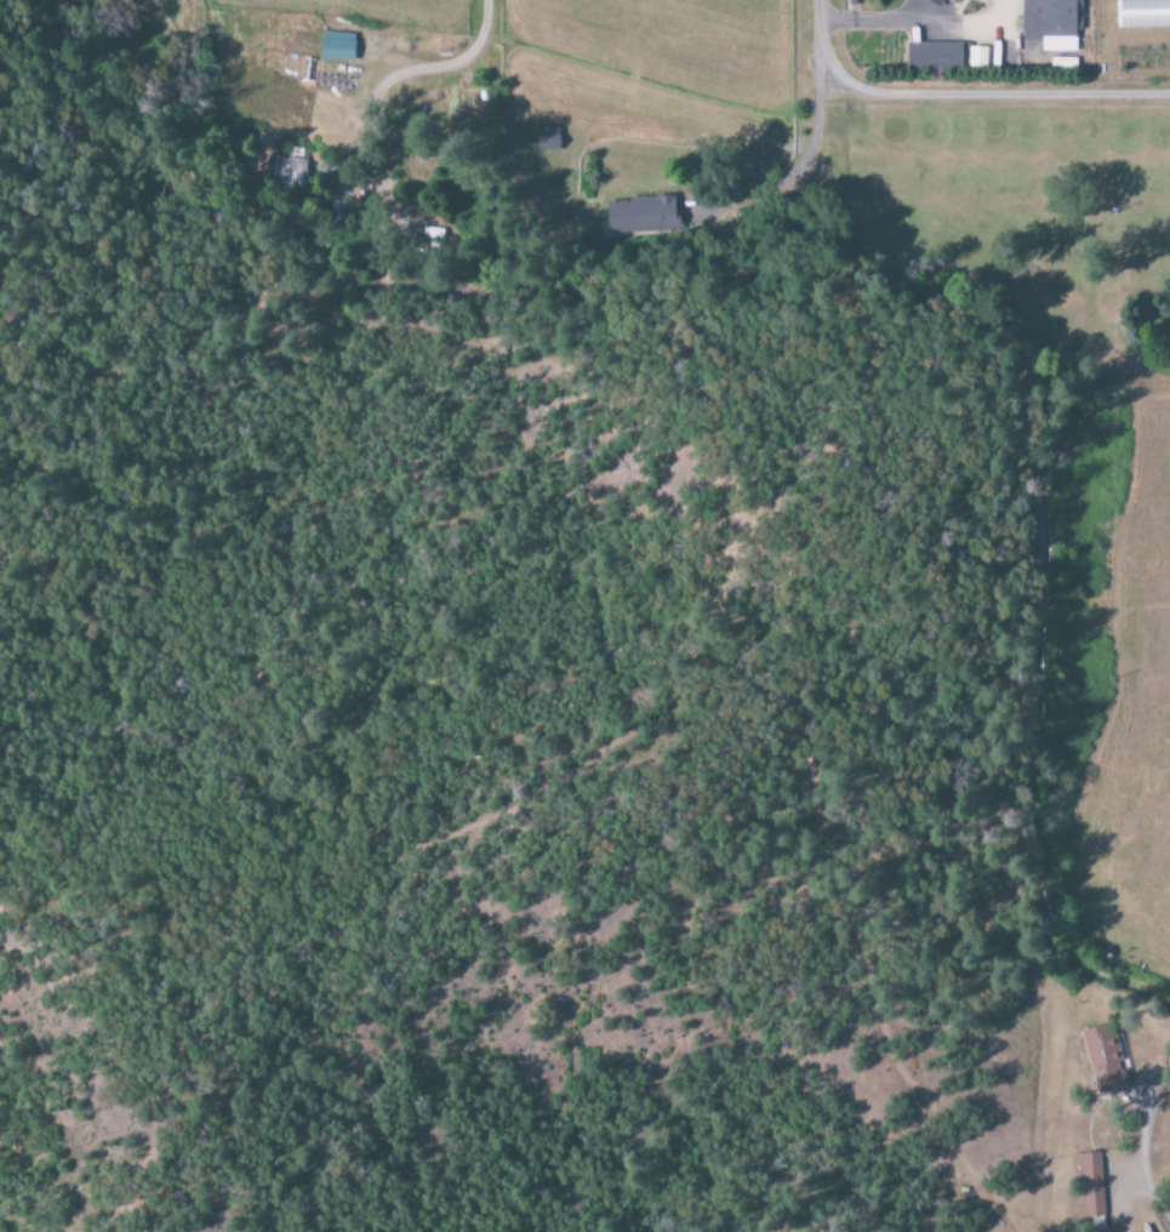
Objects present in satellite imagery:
building: (953, 0)
building: (934, 1)
building: (1051, 23)
road: (902, 25)
road: (815, 41)
building: (337, 47)
building: (944, 57)
road: (405, 76)
road: (981, 97)
building: (547, 138)
building: (290, 170)
building: (641, 215)
building: (1103, 1060)
building: (1091, 1185)

